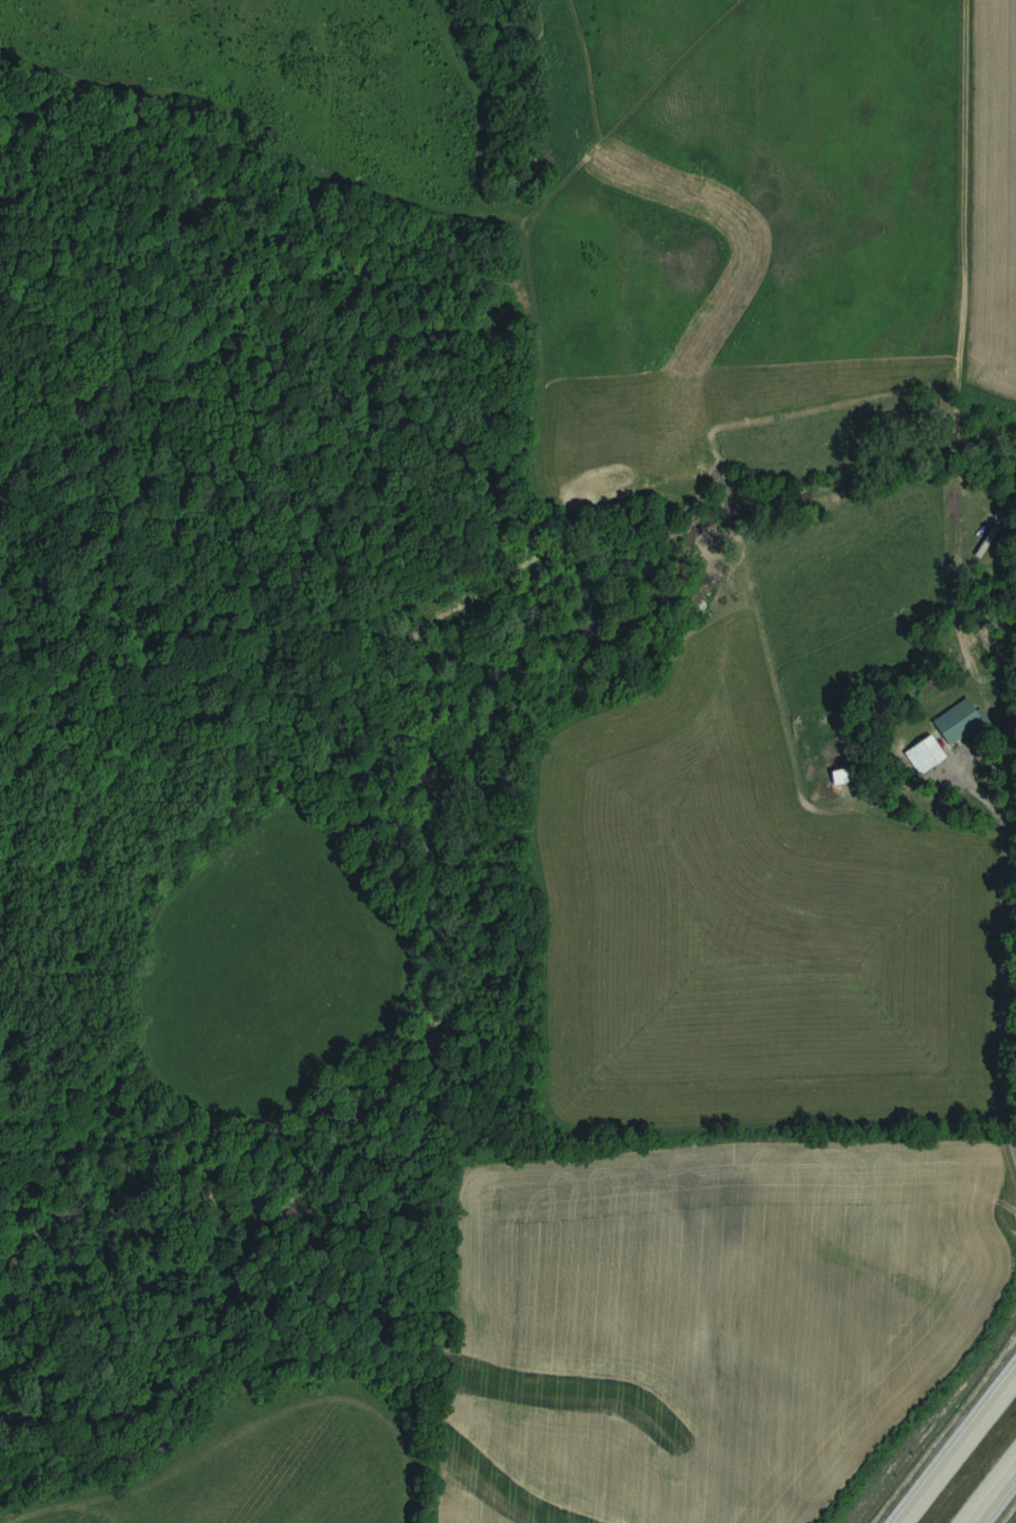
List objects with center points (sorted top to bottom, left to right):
road: (964, 185)
building: (961, 720)
building: (933, 752)
road: (1002, 960)
road: (952, 1440)
road: (990, 1489)

